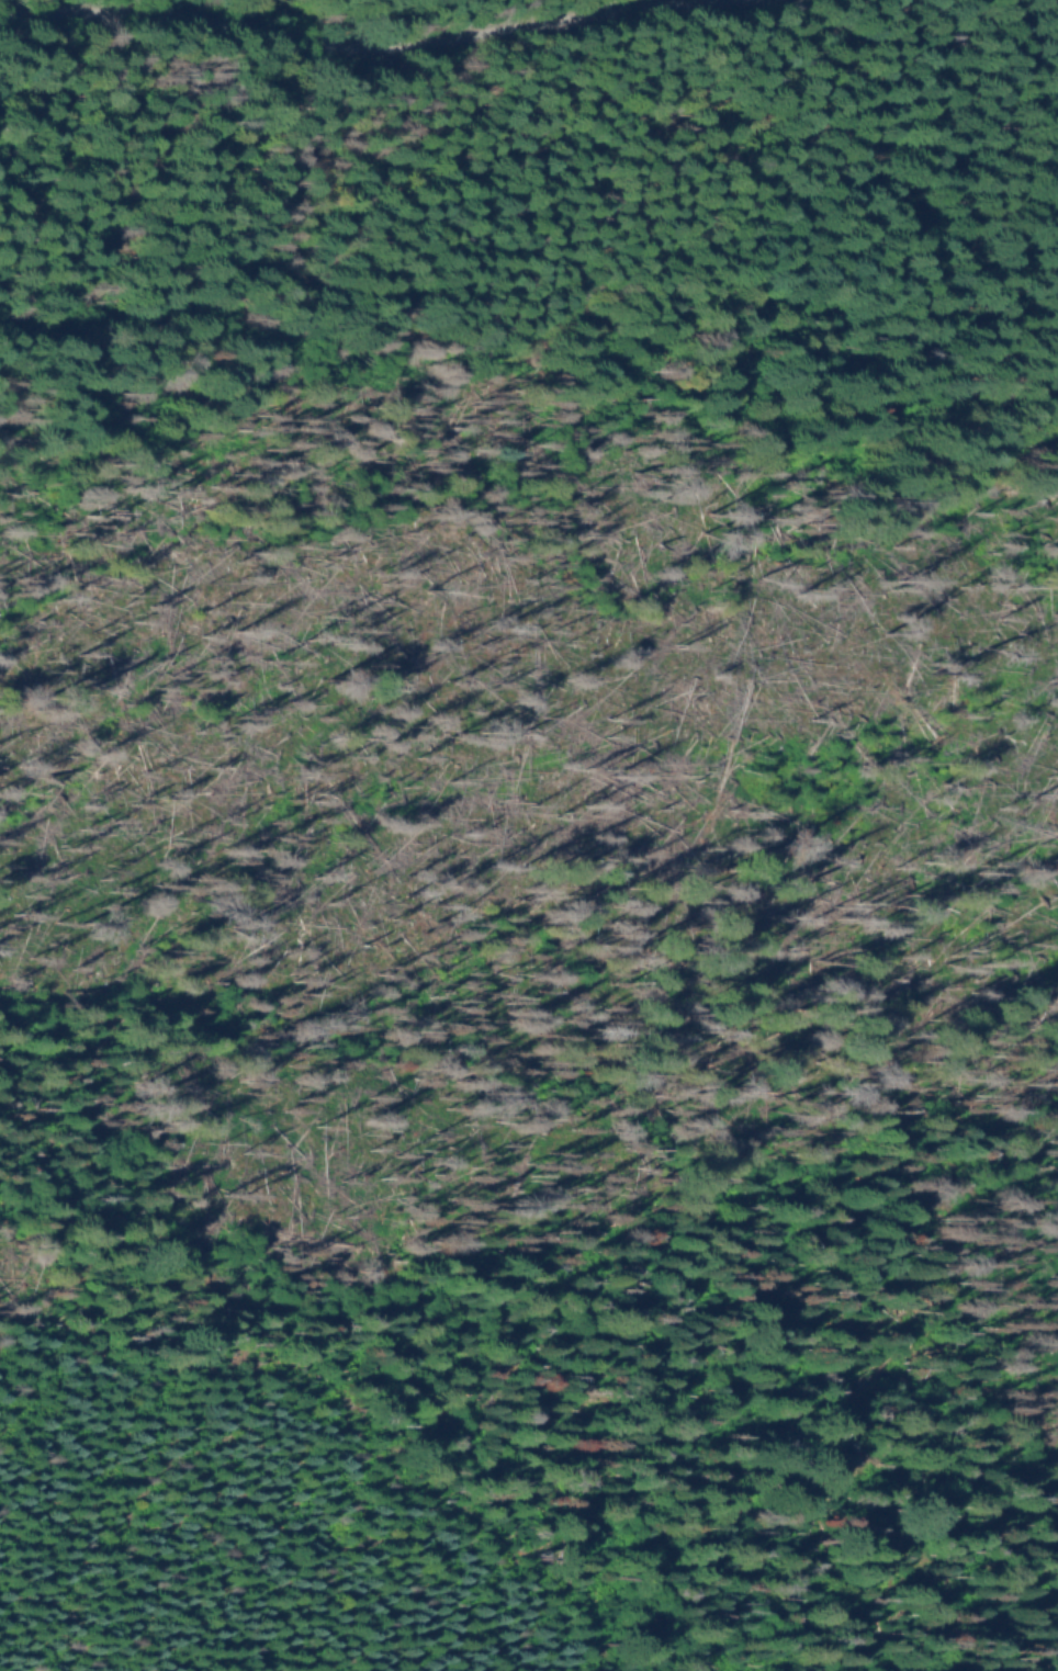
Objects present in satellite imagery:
road: (368, 47)

